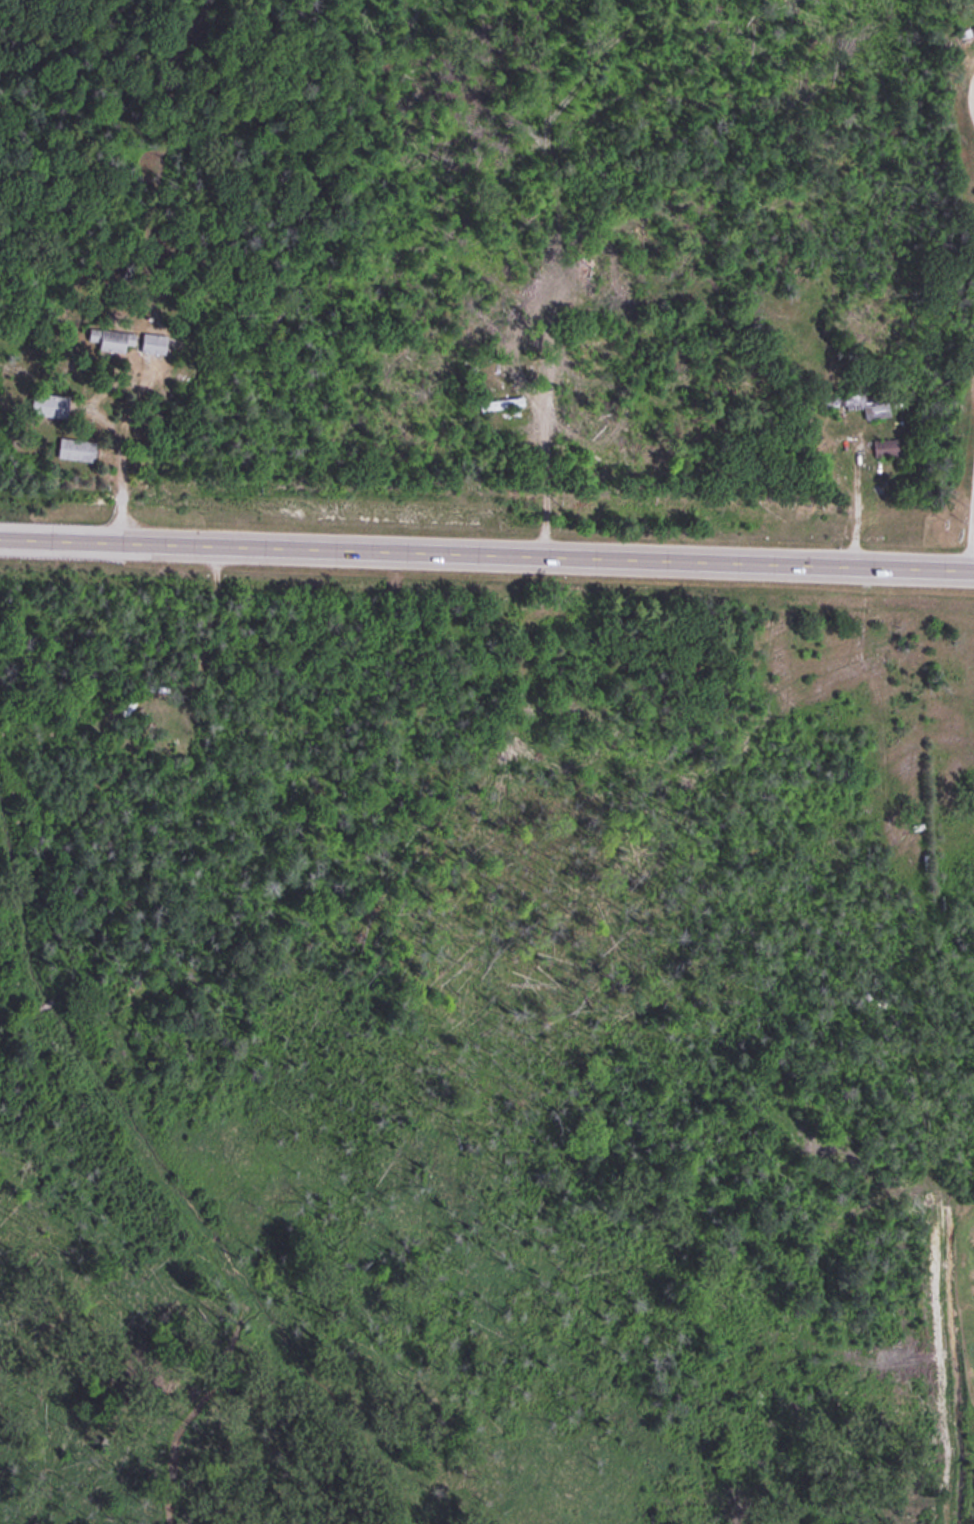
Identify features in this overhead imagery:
road: (970, 96)
building: (107, 338)
building: (148, 341)
building: (498, 401)
building: (873, 406)
road: (129, 444)
building: (885, 444)
building: (72, 446)
road: (970, 518)
road: (487, 550)
park: (959, 1338)

